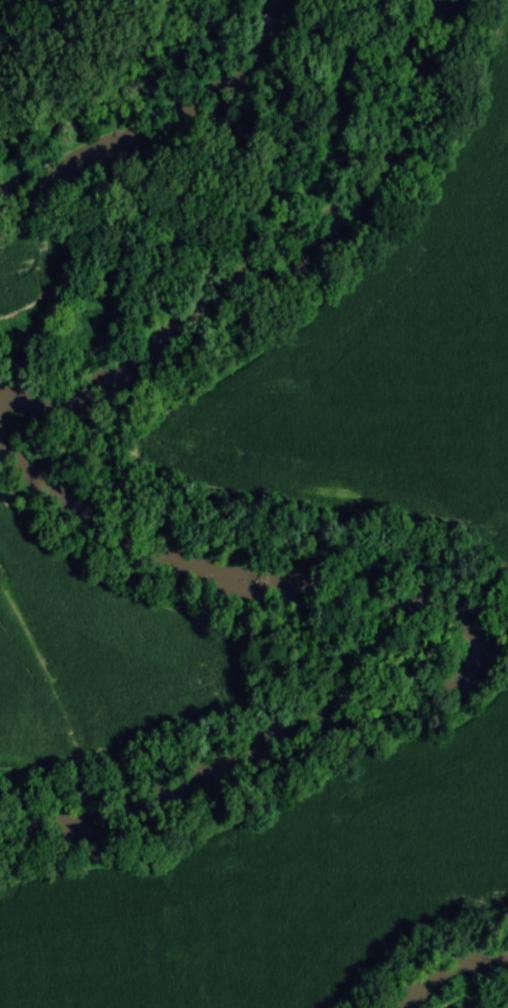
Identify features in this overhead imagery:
river: (171, 124)
river: (287, 262)
river: (483, 641)
river: (449, 970)

